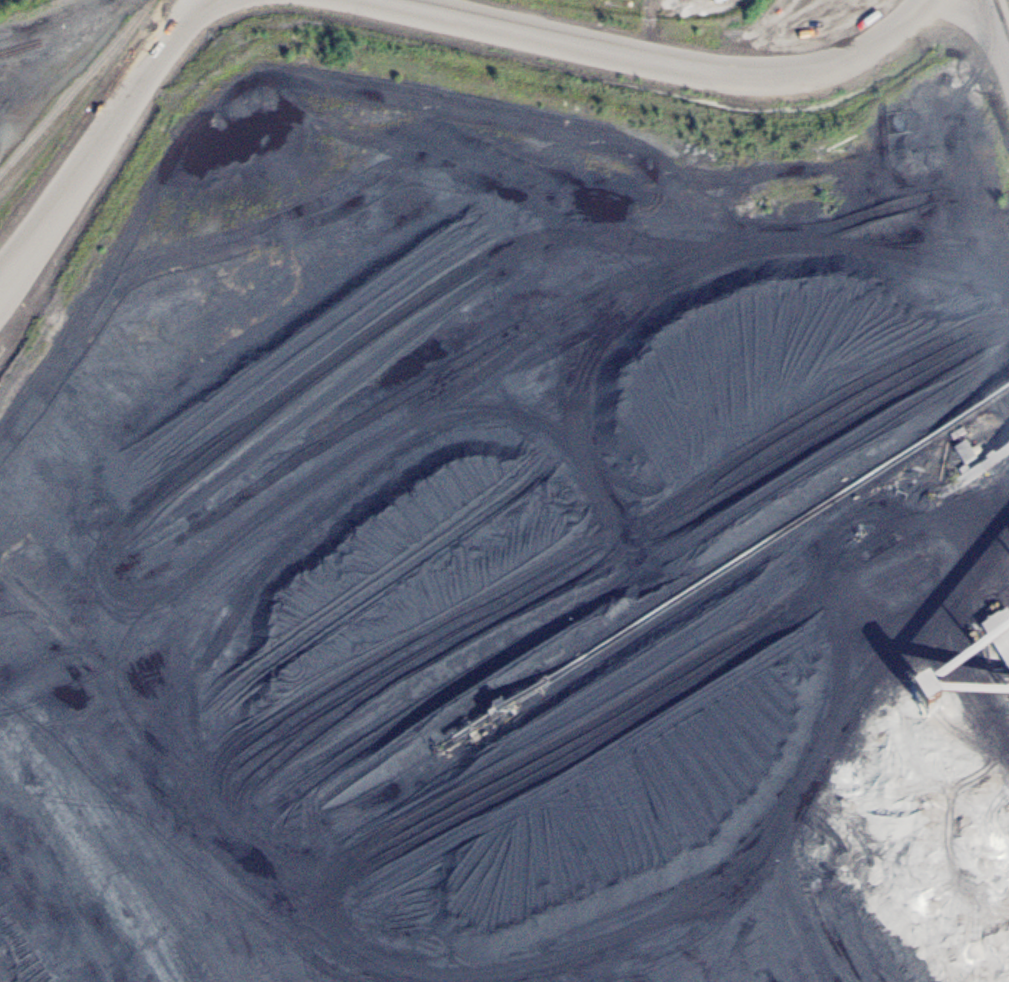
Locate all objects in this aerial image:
railway: (79, 102)
landfill: (480, 558)

